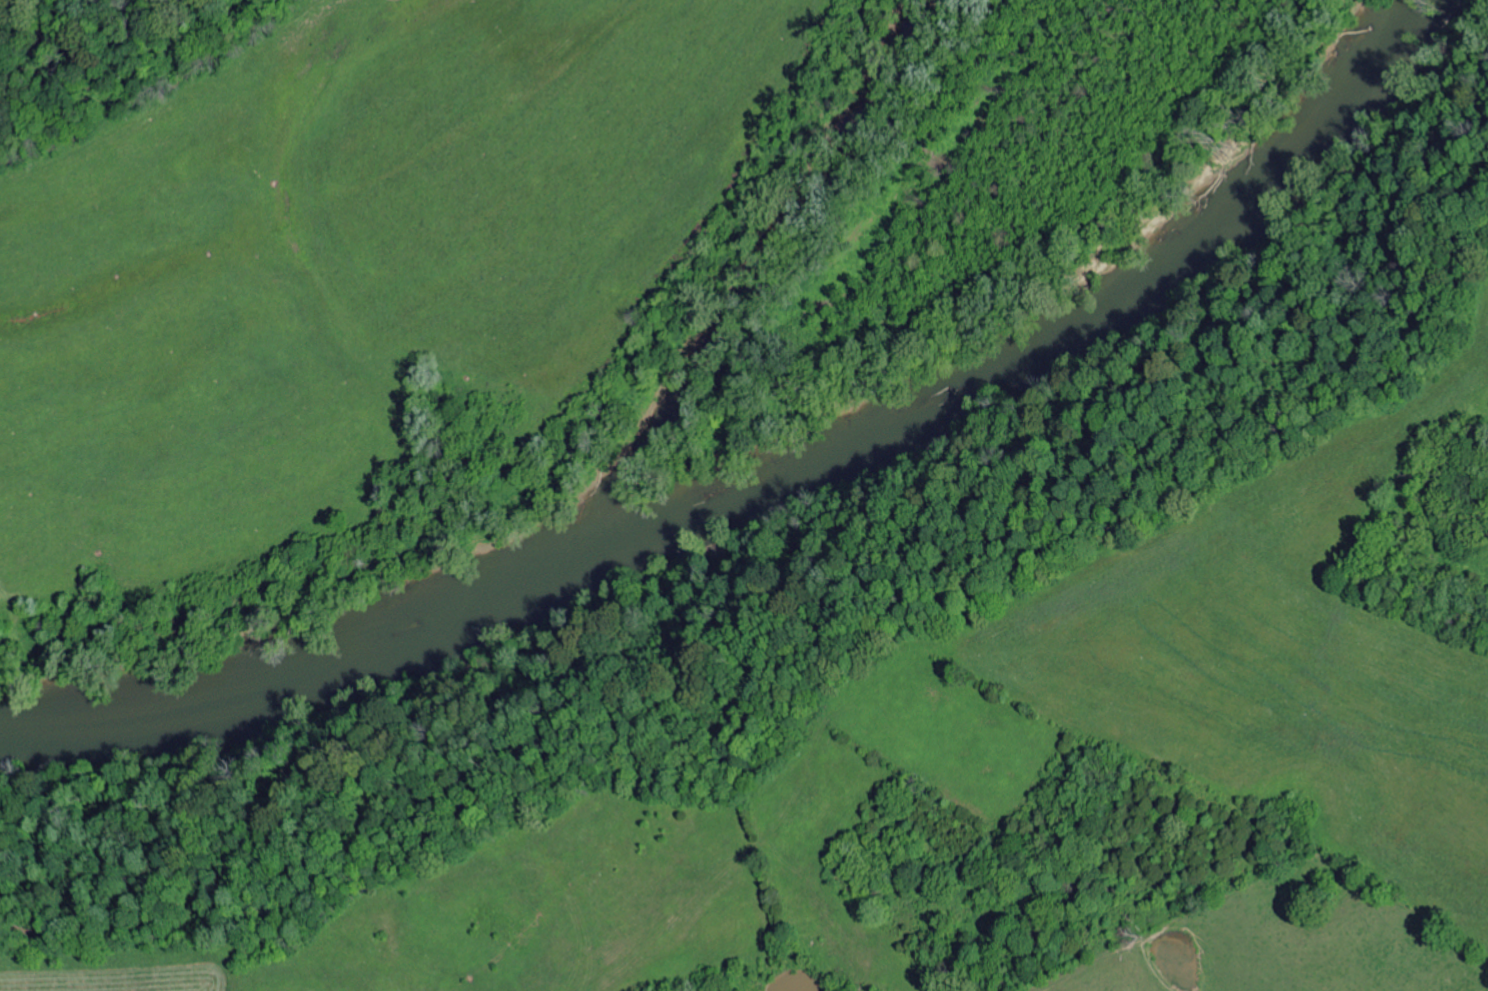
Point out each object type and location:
river: (794, 502)

